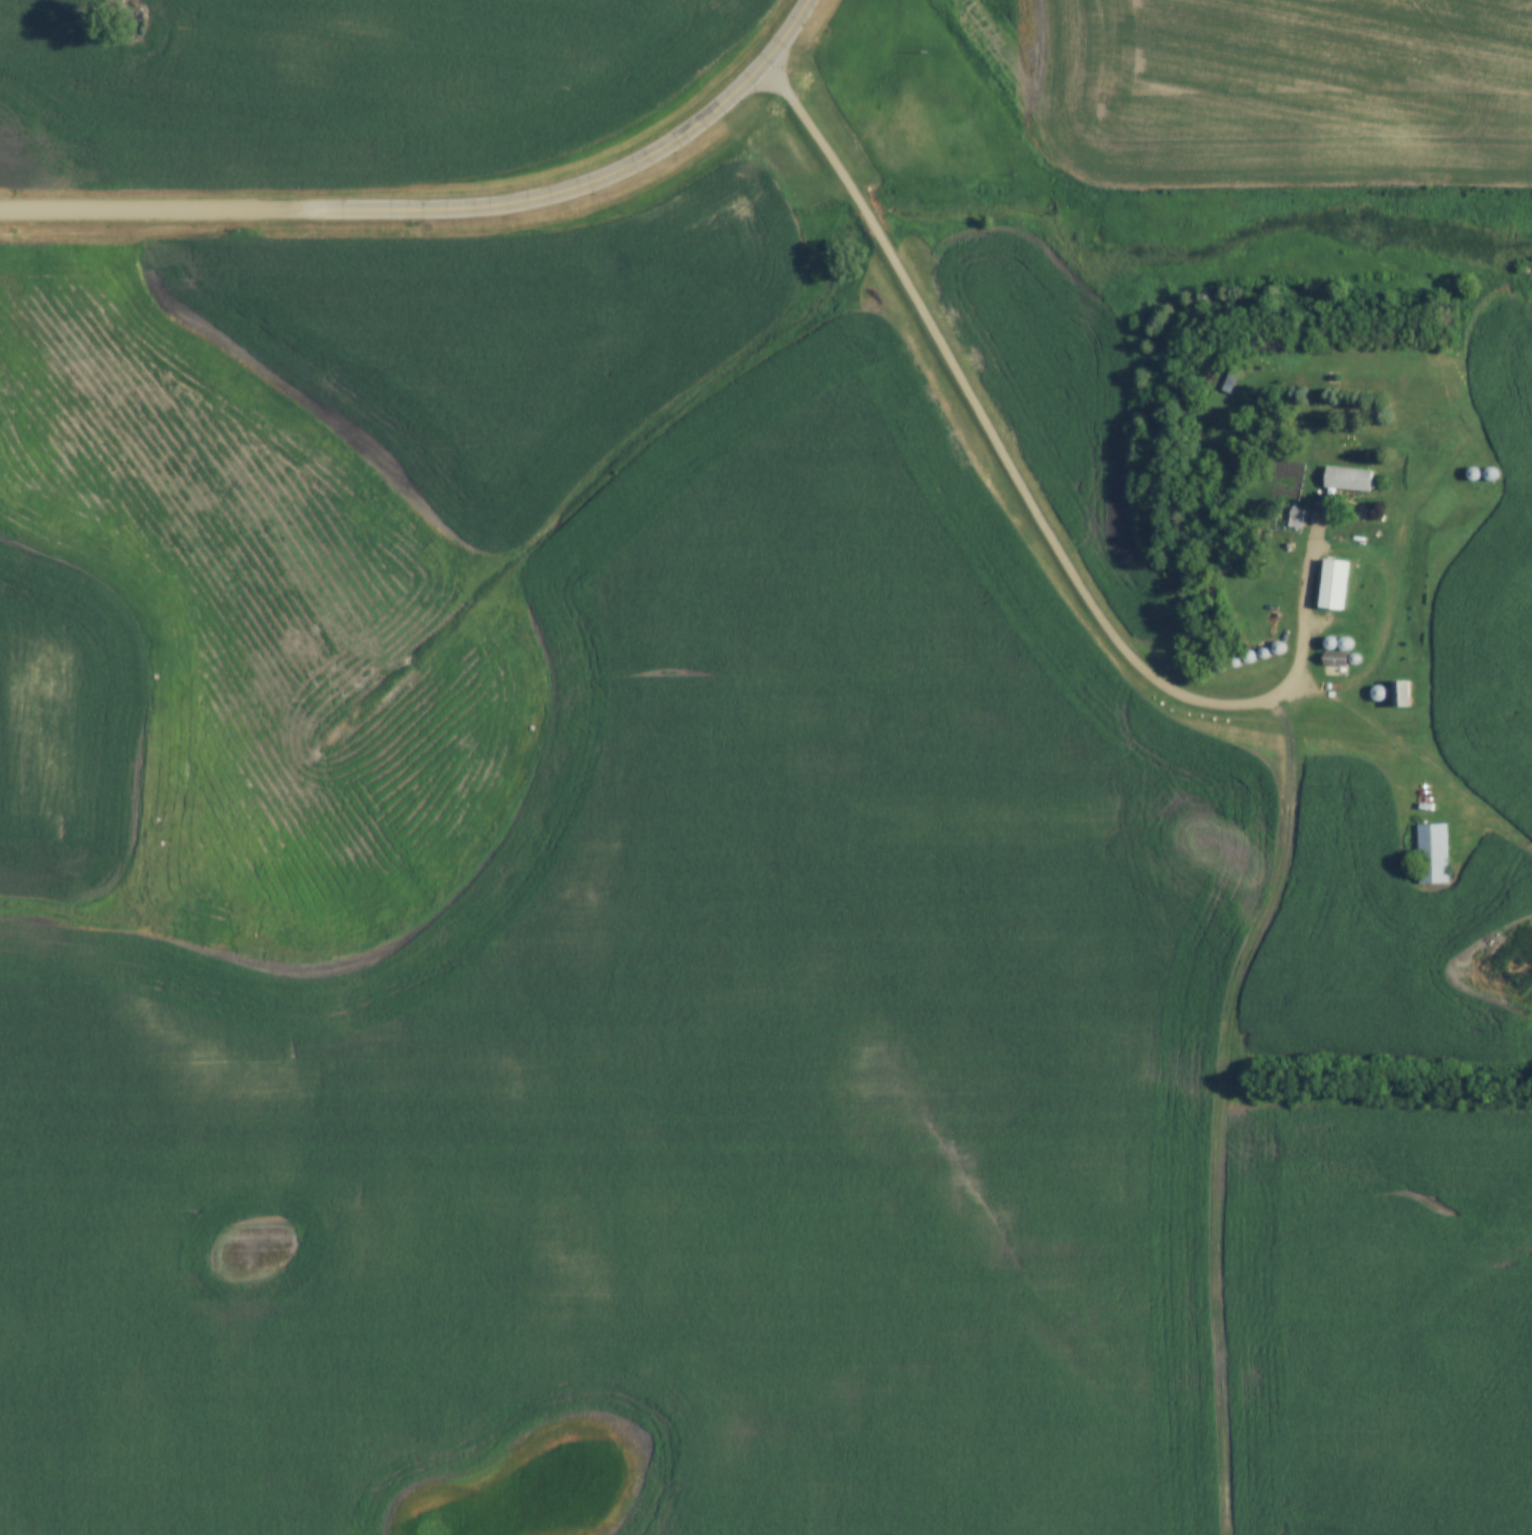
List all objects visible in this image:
road: (794, 33)
road: (575, 195)
road: (169, 213)
building: (1229, 384)
building: (1491, 473)
silo: (1491, 473)
building: (1473, 474)
silo: (1473, 474)
building: (1350, 480)
road: (1025, 484)
building: (1294, 518)
building: (1335, 586)
building: (1331, 642)
silo: (1331, 642)
building: (1346, 643)
silo: (1346, 643)
building: (1278, 648)
silo: (1278, 648)
building: (1265, 654)
silo: (1265, 654)
building: (1249, 656)
silo: (1249, 656)
building: (1355, 659)
silo: (1355, 659)
building: (1236, 663)
silo: (1236, 663)
building: (1336, 664)
building: (1220, 666)
silo: (1220, 666)
building: (1379, 693)
silo: (1379, 693)
building: (1401, 693)
building: (1434, 854)
road: (1211, 1110)

